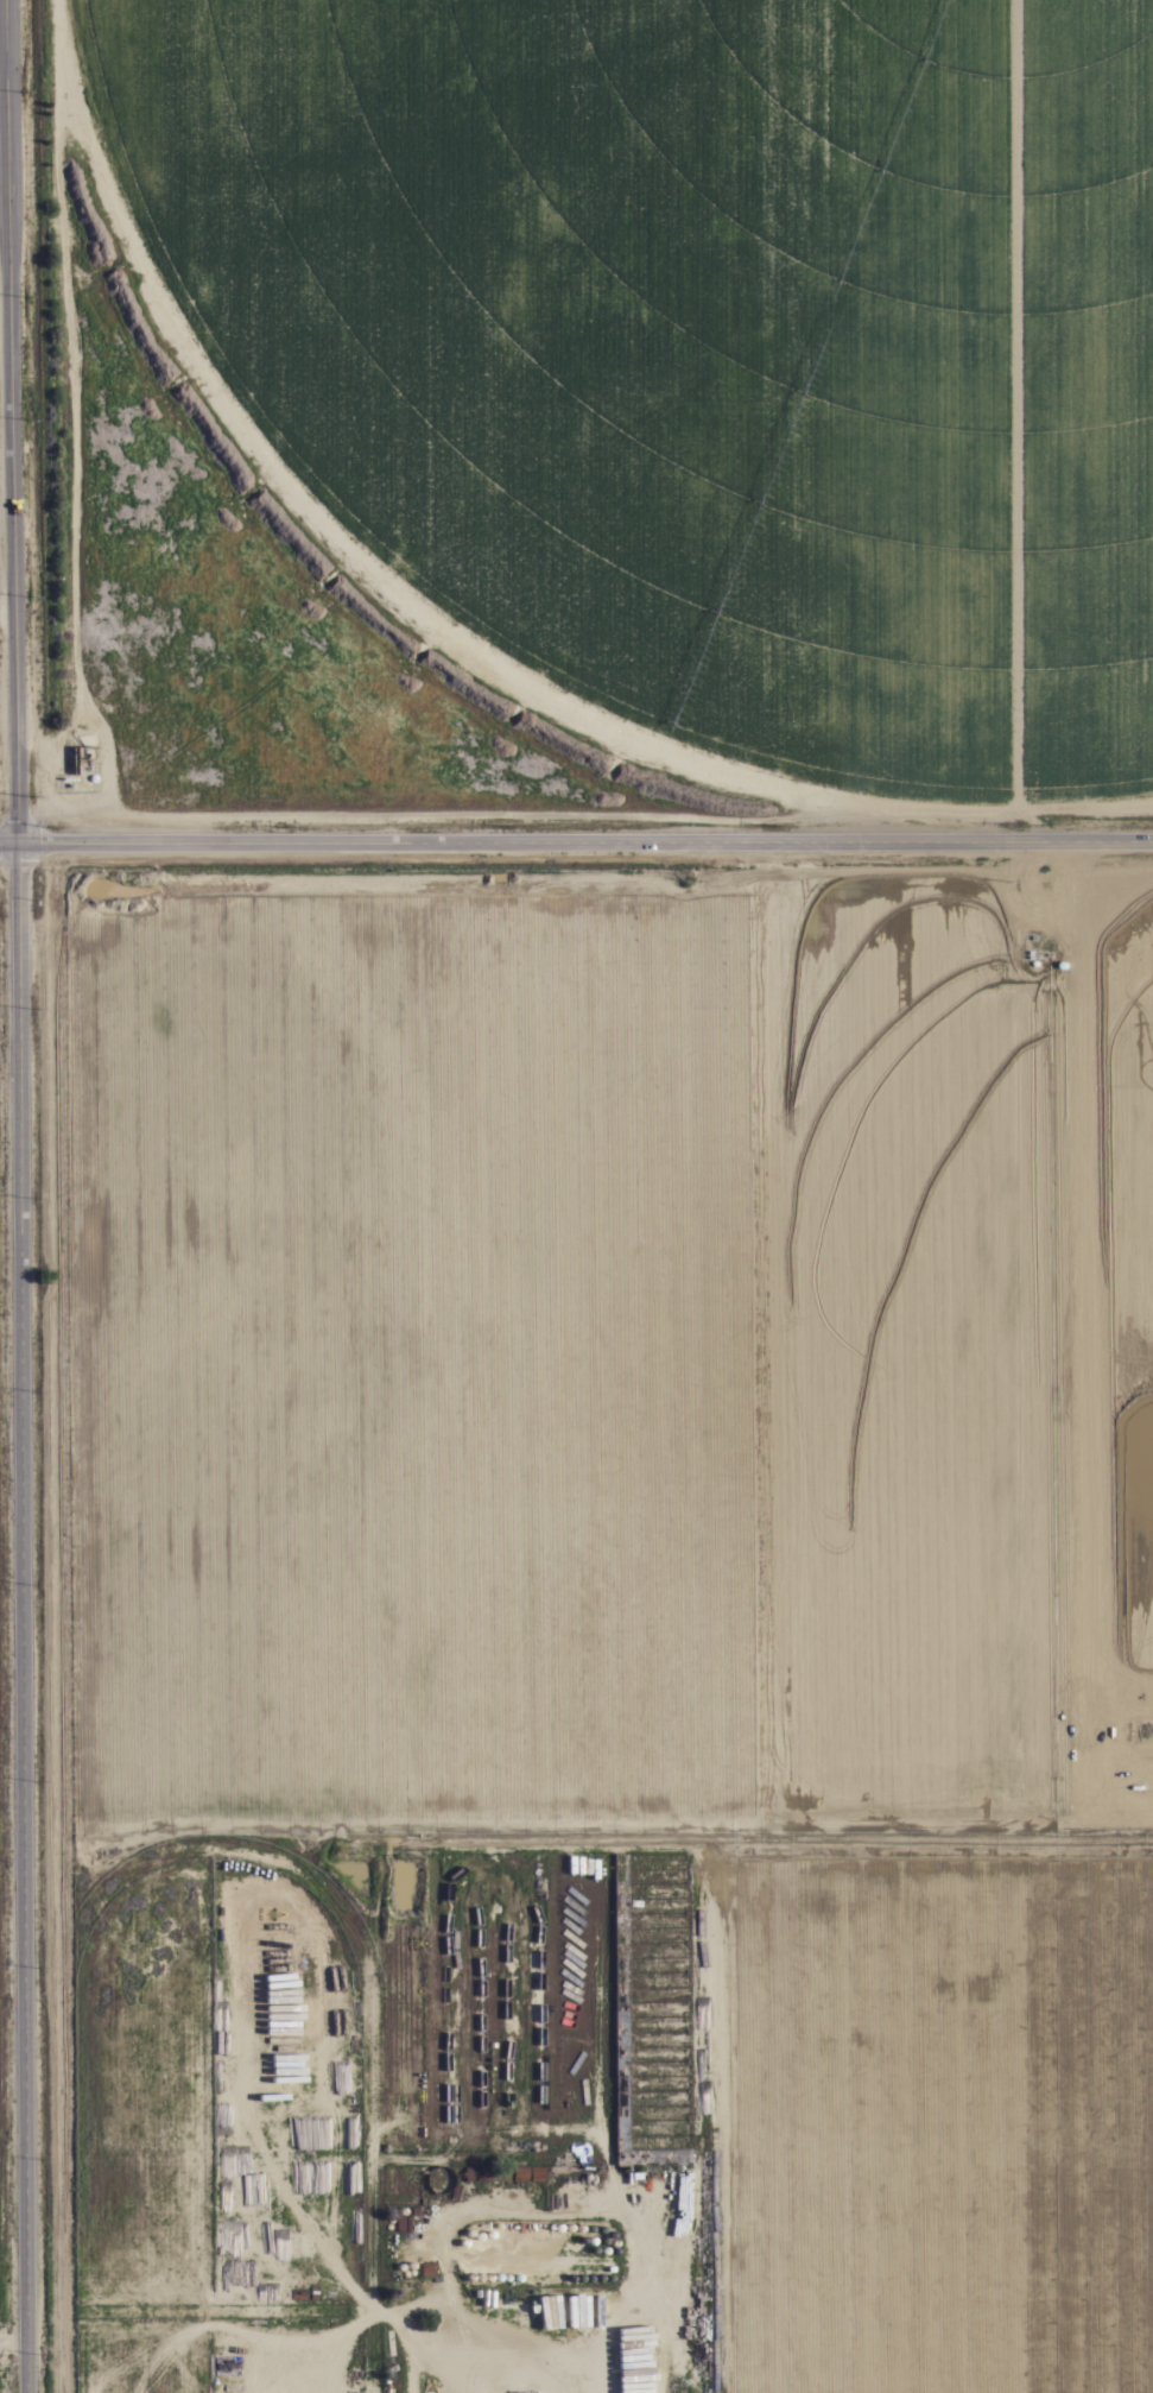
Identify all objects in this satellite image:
road: (2, 69)
road: (11, 423)
road: (8, 845)
road: (585, 845)
crop: (686, 1076)
road: (21, 1619)
building: (620, 2001)

